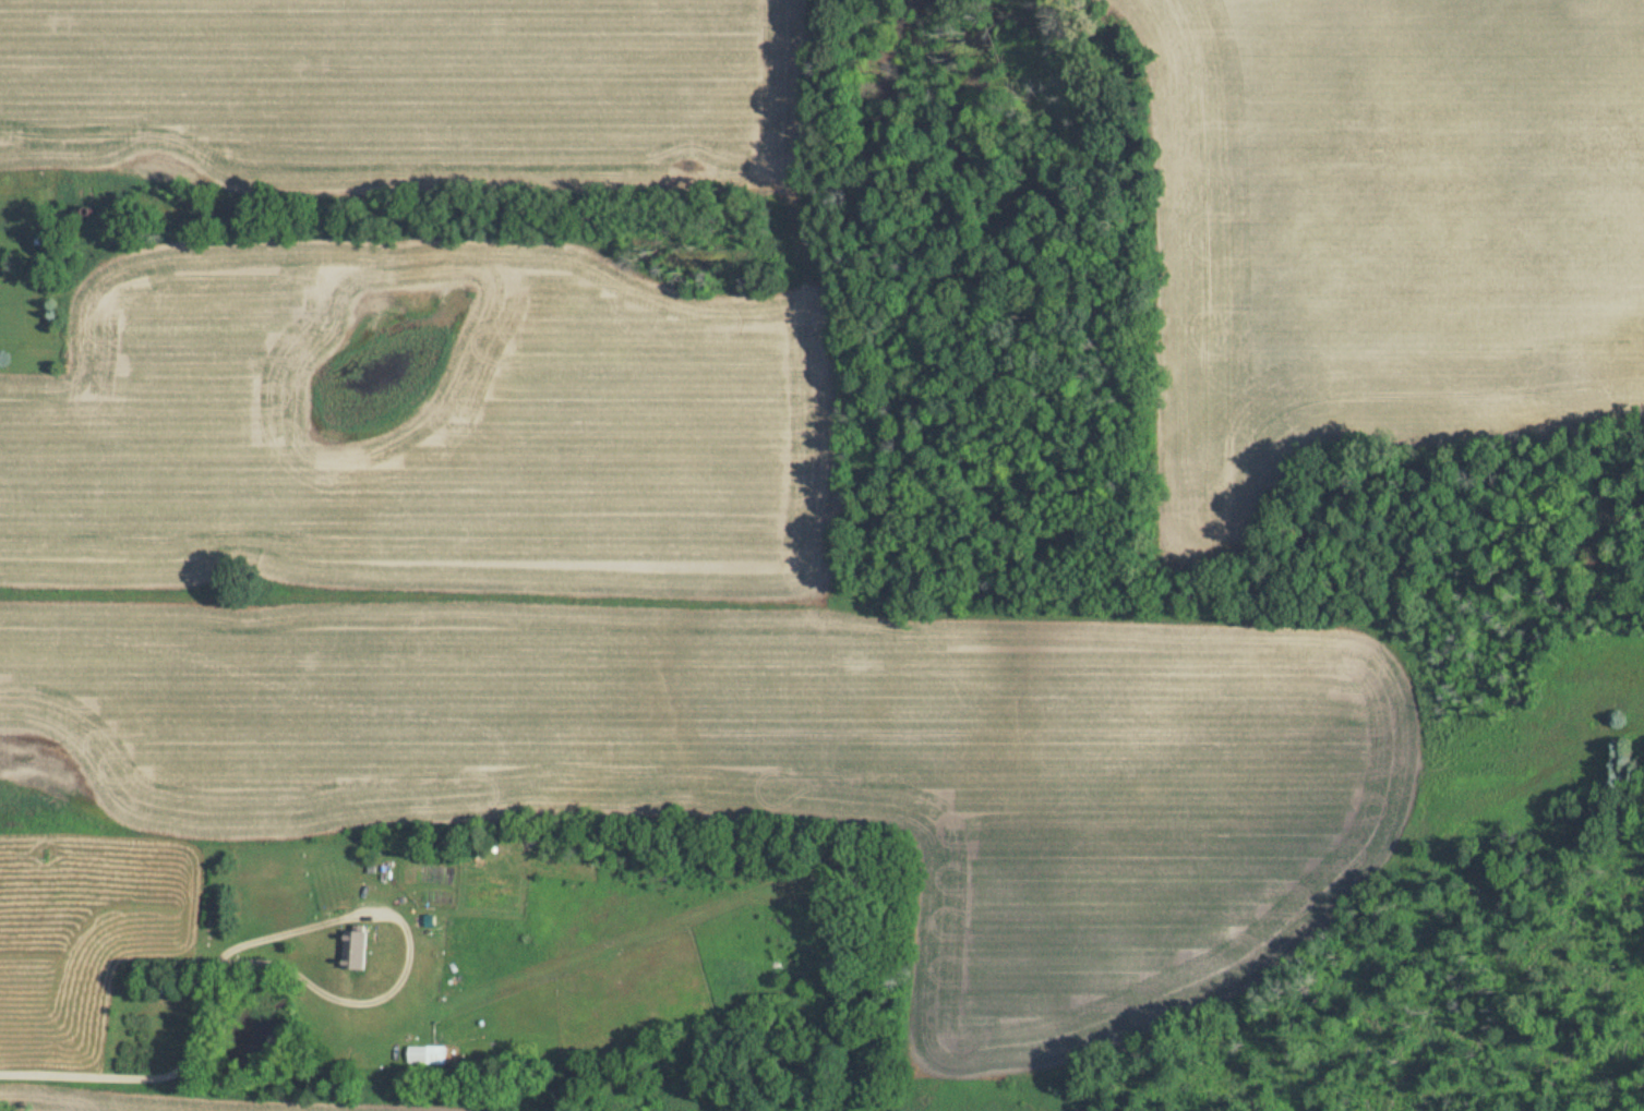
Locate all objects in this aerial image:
building: (357, 952)
road: (385, 986)
building: (418, 1056)
road: (115, 1077)

